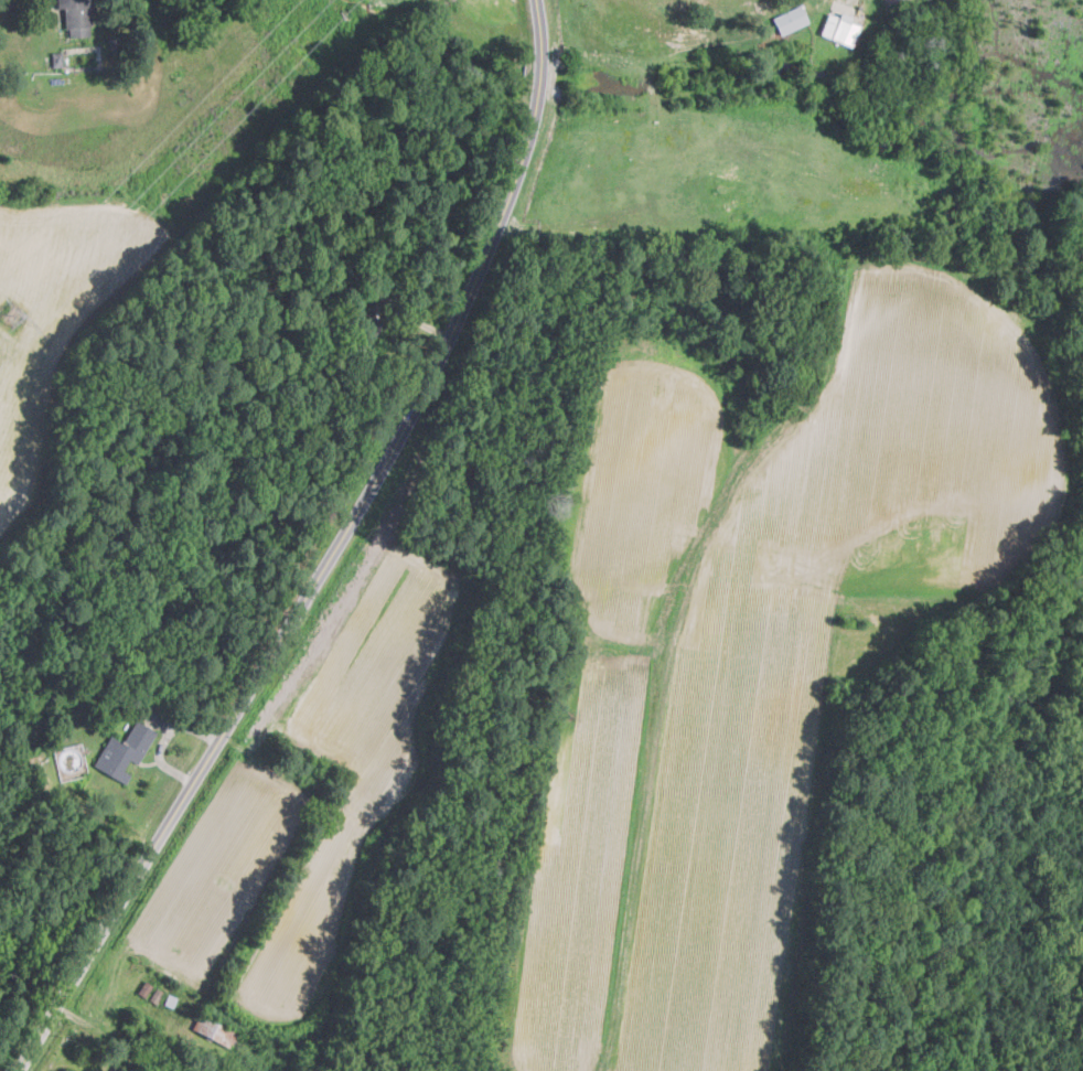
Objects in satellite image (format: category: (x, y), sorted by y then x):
building: (76, 17)
building: (791, 19)
building: (839, 29)
building: (56, 58)
power tower: (9, 314)
road: (330, 554)
road: (162, 737)
building: (124, 751)

